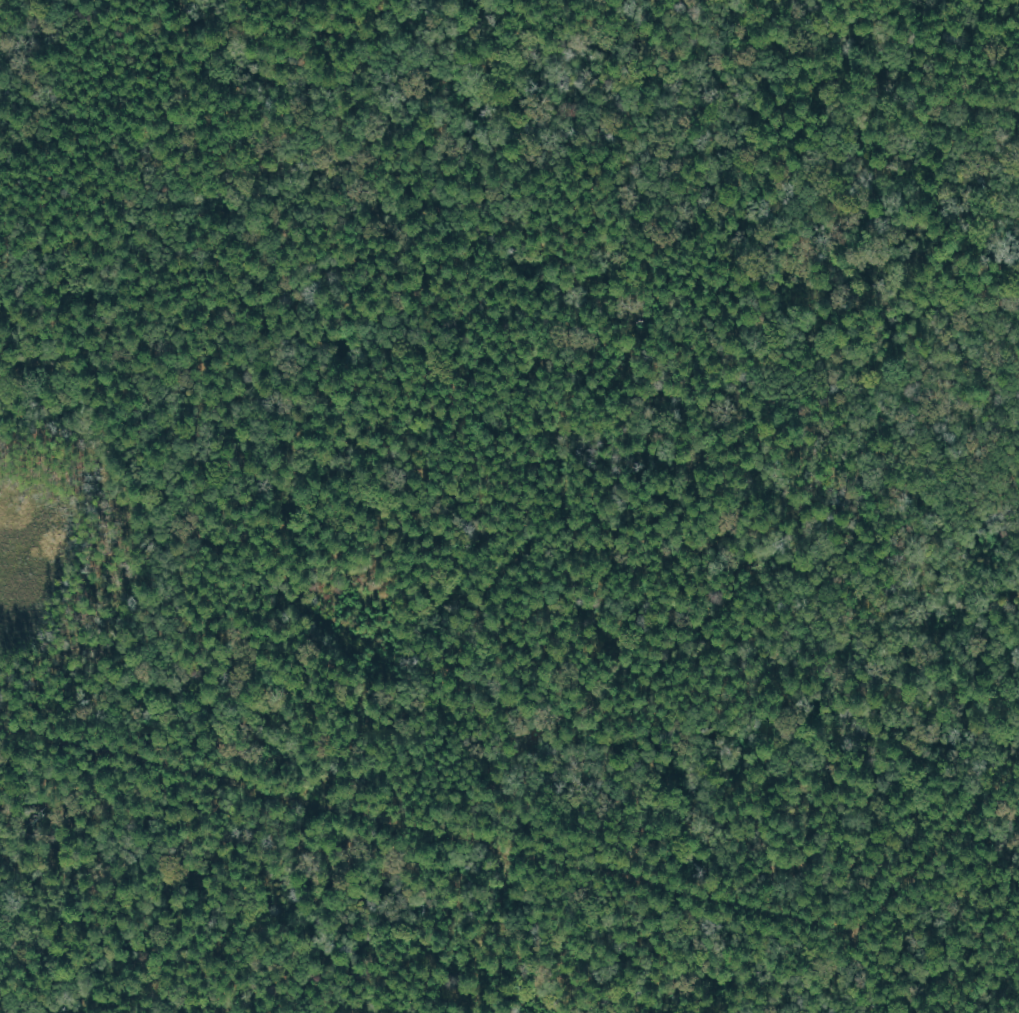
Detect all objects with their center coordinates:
road: (939, 851)
road: (469, 852)
road: (870, 975)

